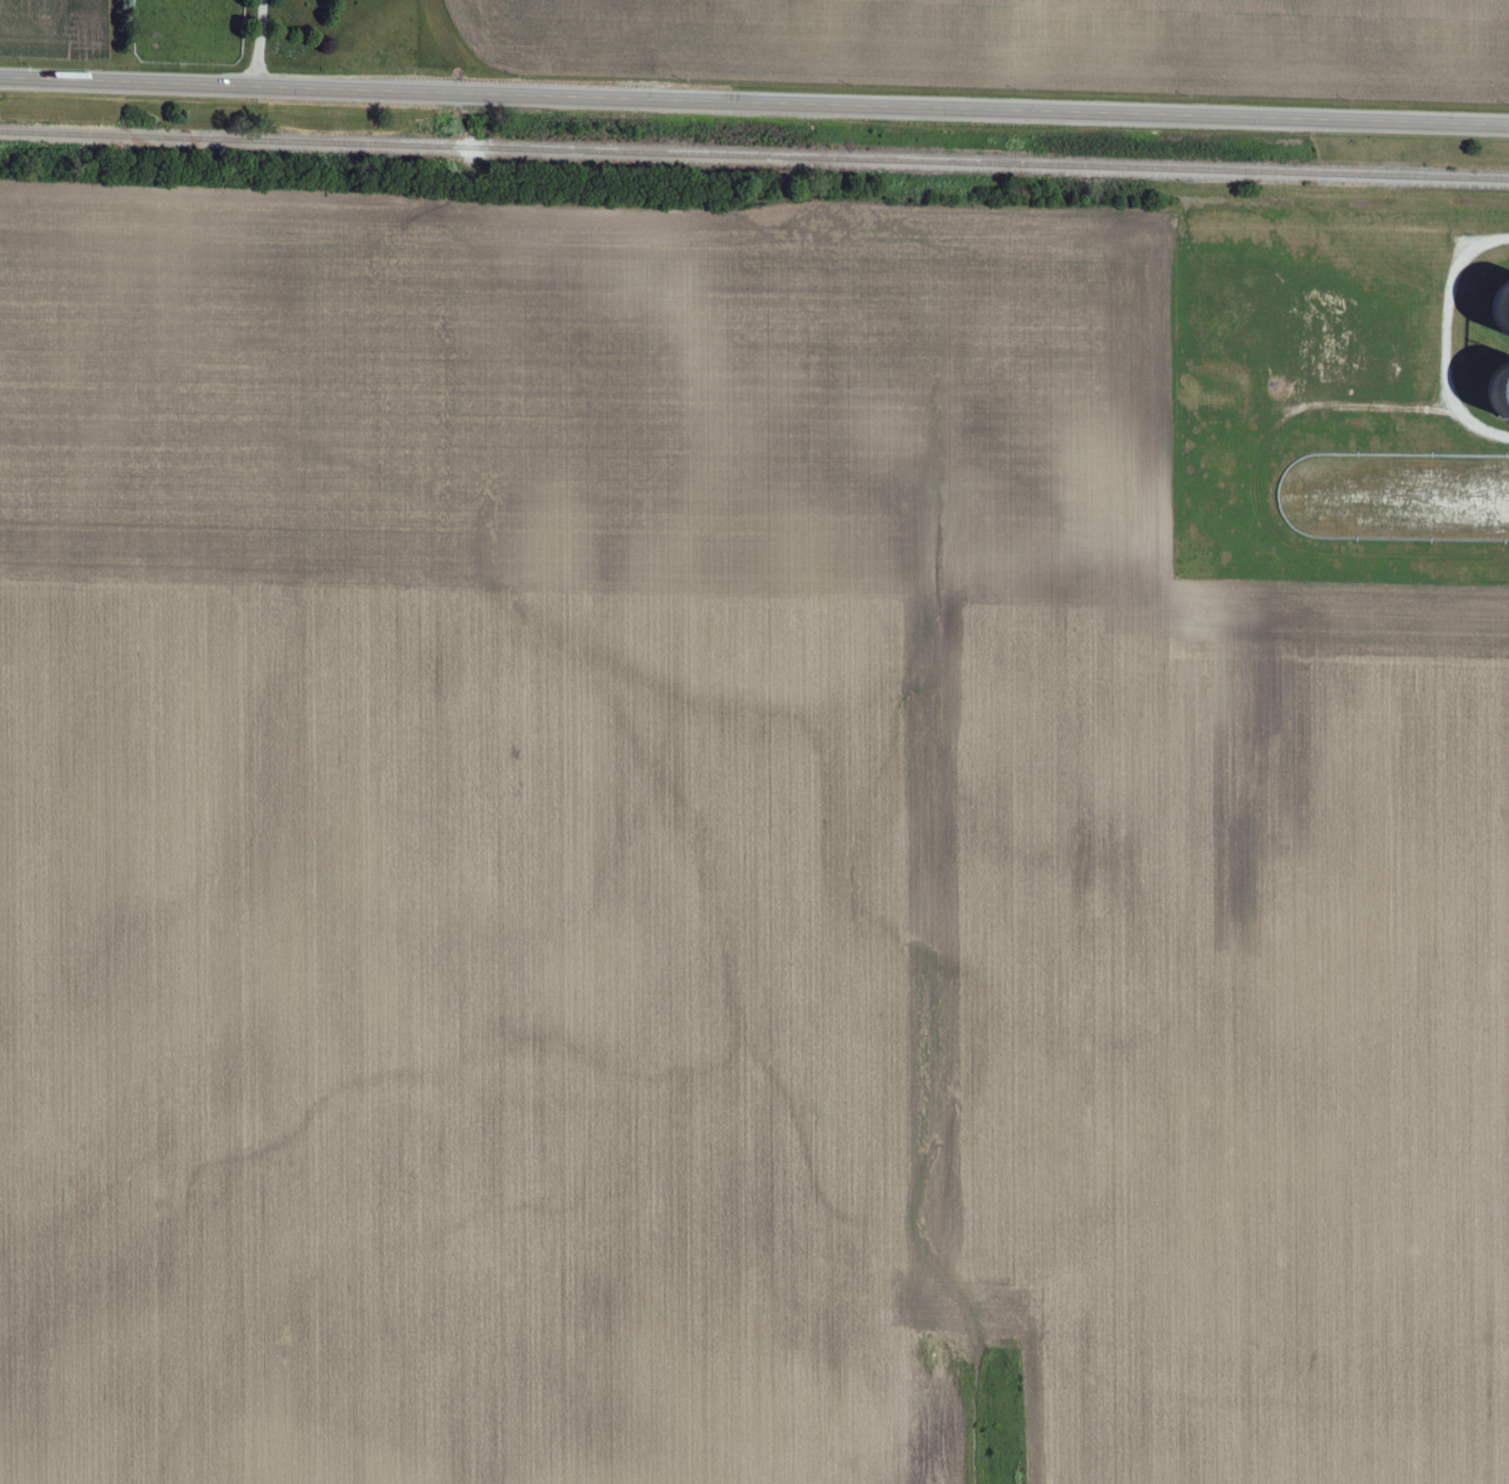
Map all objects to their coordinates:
crop: (55, 29)
road: (259, 42)
crop: (1016, 44)
road: (754, 102)
railway: (754, 153)

